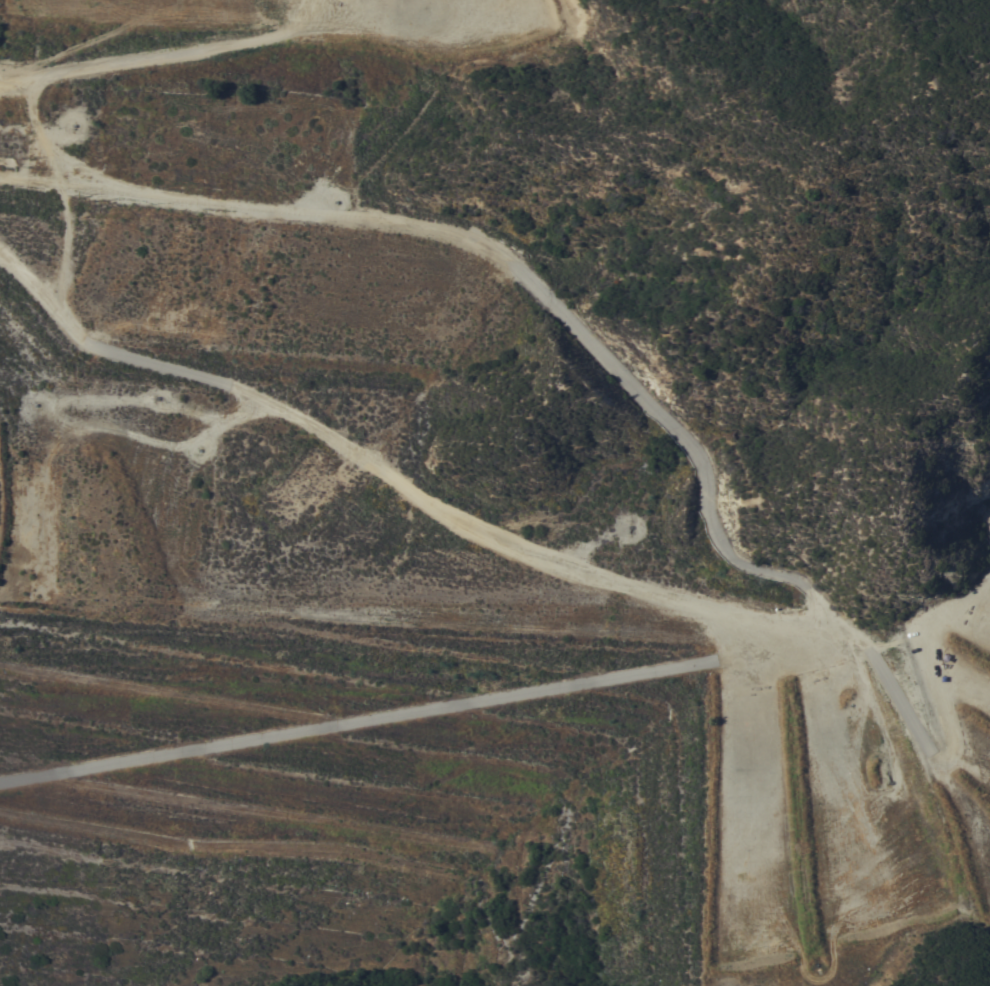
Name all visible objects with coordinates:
road: (145, 64)
road: (81, 195)
road: (611, 373)
road: (376, 466)
road: (417, 716)

